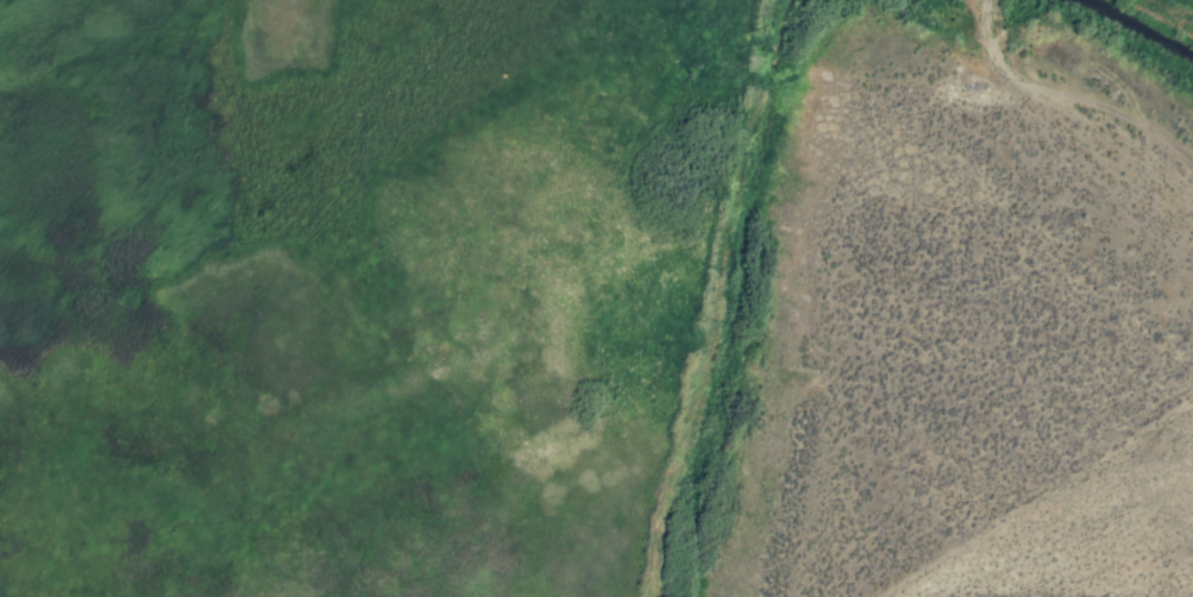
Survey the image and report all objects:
road: (1065, 98)

